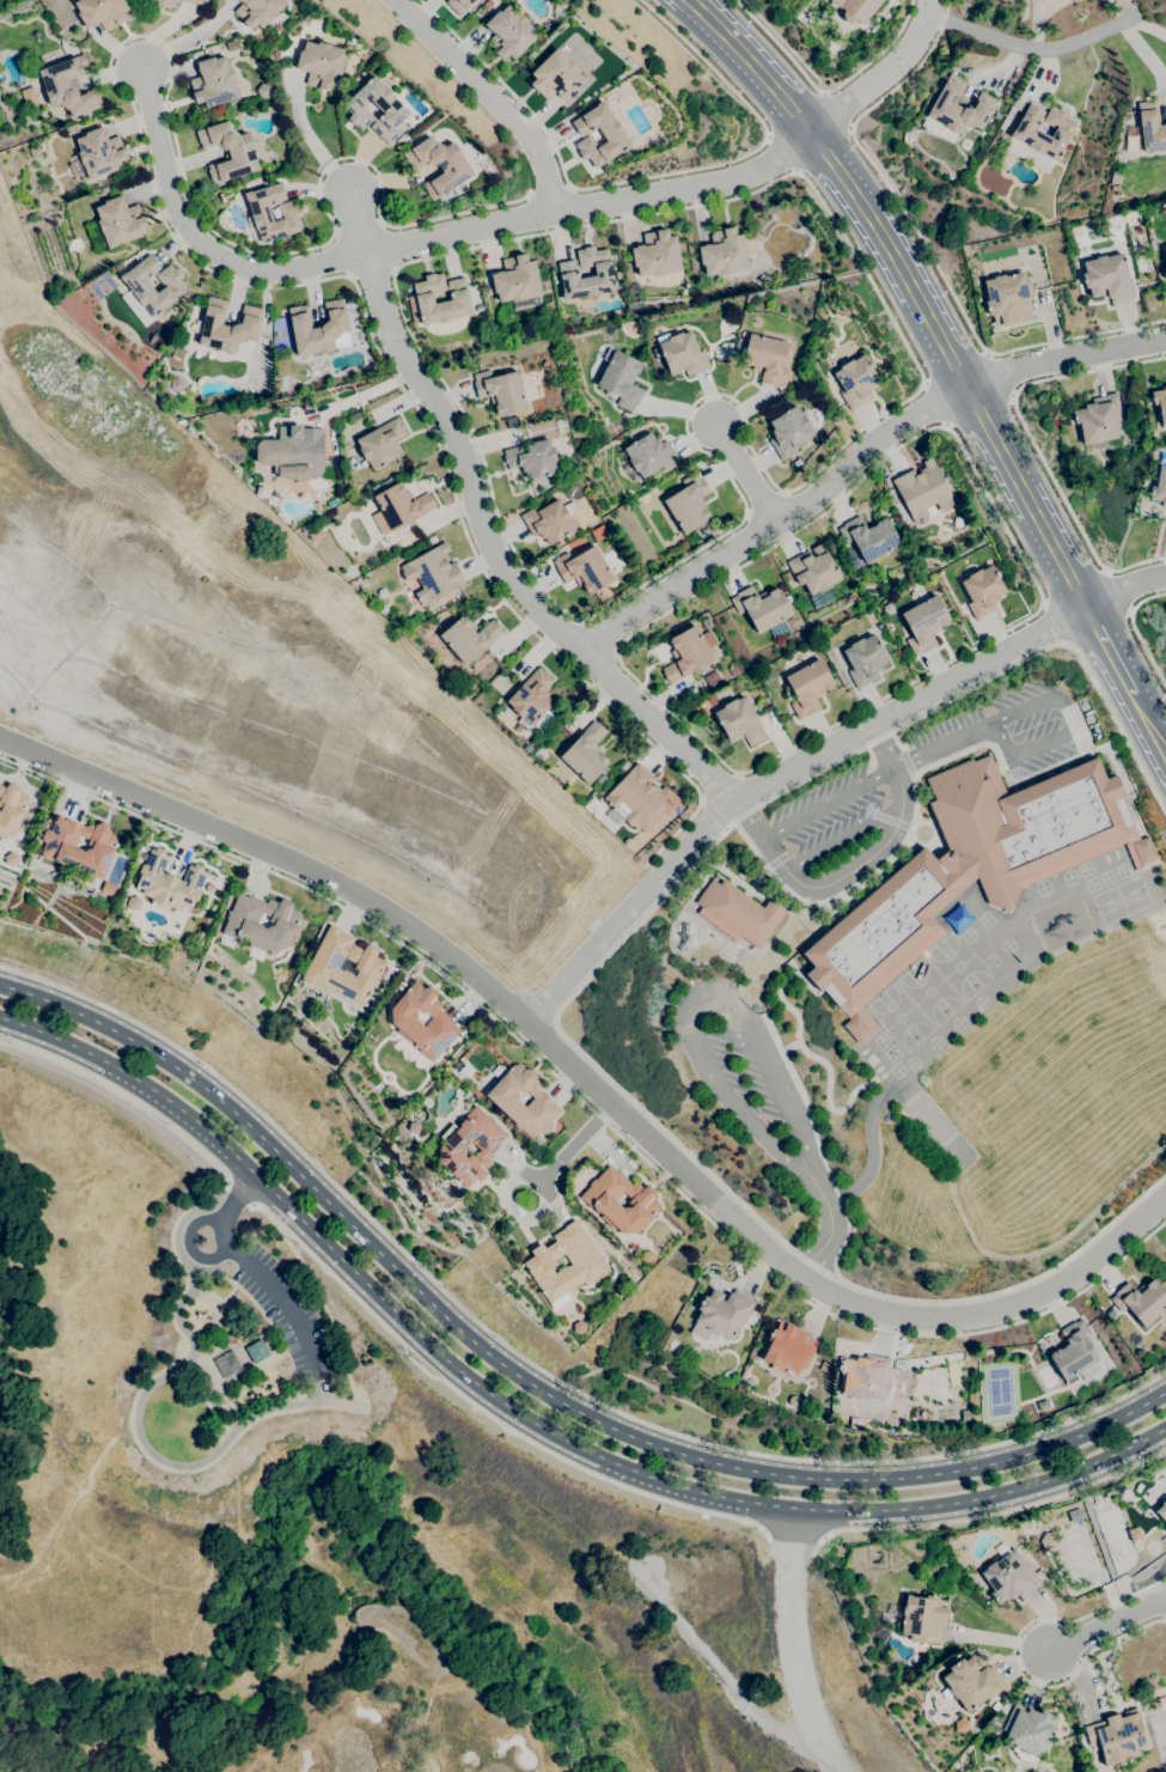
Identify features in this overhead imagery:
building: (1074, 0)
building: (194, 1)
building: (165, 4)
building: (486, 4)
building: (459, 5)
building: (856, 8)
building: (257, 11)
building: (100, 12)
building: (508, 34)
road: (725, 37)
building: (231, 44)
road: (1024, 45)
building: (321, 63)
road: (880, 74)
building: (555, 77)
building: (213, 83)
building: (68, 86)
building: (263, 90)
road: (824, 91)
road: (823, 93)
road: (492, 95)
road: (786, 103)
building: (958, 106)
building: (393, 110)
road: (834, 111)
building: (1150, 127)
road: (849, 128)
building: (611, 134)
building: (1040, 136)
road: (768, 138)
building: (33, 151)
building: (227, 151)
building: (98, 153)
road: (782, 153)
road: (830, 159)
building: (439, 165)
road: (875, 169)
road: (795, 171)
road: (645, 177)
building: (110, 178)
road: (569, 188)
road: (549, 191)
road: (529, 195)
building: (291, 214)
road: (356, 223)
building: (115, 224)
road: (417, 240)
building: (722, 252)
building: (1165, 252)
building: (655, 254)
building: (1165, 270)
building: (568, 272)
building: (1106, 278)
building: (515, 280)
road: (244, 282)
building: (138, 285)
building: (1008, 298)
building: (454, 302)
building: (226, 325)
building: (318, 328)
road: (1074, 339)
building: (682, 353)
building: (765, 359)
road: (1066, 361)
road: (1001, 373)
building: (619, 378)
building: (856, 380)
building: (500, 390)
road: (362, 392)
road: (972, 398)
building: (1160, 404)
road: (934, 406)
building: (1099, 424)
building: (788, 432)
road: (1033, 440)
building: (381, 443)
building: (291, 453)
building: (649, 455)
building: (531, 458)
building: (796, 463)
road: (746, 471)
building: (385, 483)
building: (1159, 487)
building: (922, 491)
building: (688, 503)
building: (401, 505)
building: (1165, 512)
building: (549, 520)
road: (775, 520)
building: (869, 537)
road: (497, 560)
road: (1025, 566)
building: (584, 568)
building: (813, 570)
building: (432, 573)
building: (978, 587)
road: (1119, 591)
road: (622, 595)
road: (1127, 599)
building: (763, 609)
building: (706, 623)
building: (923, 623)
road: (1052, 623)
road: (1136, 632)
building: (469, 638)
road: (1110, 652)
building: (686, 654)
building: (863, 660)
building: (733, 671)
building: (712, 680)
building: (807, 687)
building: (530, 698)
road: (1043, 699)
building: (762, 702)
building: (739, 721)
road: (1149, 724)
parking lot: (1012, 727)
road: (1001, 735)
road: (944, 744)
road: (1038, 744)
building: (585, 753)
road: (776, 777)
road: (719, 784)
building: (635, 796)
road: (829, 802)
parking lot: (825, 808)
building: (11, 809)
road: (714, 811)
road: (750, 817)
road: (842, 835)
building: (59, 848)
road: (873, 853)
building: (10, 859)
building: (969, 866)
building: (167, 883)
building: (108, 889)
park: (1121, 899)
building: (739, 912)
building: (243, 928)
park: (958, 964)
building: (323, 966)
road: (580, 984)
park: (928, 991)
road: (541, 1004)
park: (899, 1017)
building: (404, 1022)
parking lot: (739, 1066)
road: (775, 1070)
road: (592, 1084)
road: (126, 1095)
road: (733, 1098)
building: (505, 1101)
road: (588, 1108)
road: (591, 1125)
building: (452, 1146)
road: (549, 1170)
road: (237, 1196)
building: (598, 1200)
road: (829, 1235)
building: (647, 1256)
building: (585, 1261)
road: (251, 1268)
building: (1141, 1301)
road: (318, 1303)
road: (184, 1307)
building: (722, 1313)
building: (1110, 1314)
building: (787, 1348)
building: (256, 1351)
building: (1075, 1354)
road: (532, 1363)
building: (224, 1364)
building: (824, 1366)
building: (722, 1372)
building: (863, 1377)
road: (532, 1381)
park: (257, 1393)
road: (530, 1415)
building: (964, 1415)
road: (490, 1417)
building: (1164, 1479)
building: (1125, 1496)
building: (1097, 1499)
road: (65, 1502)
building: (1161, 1511)
road: (989, 1514)
building: (1165, 1529)
road: (794, 1534)
building: (1009, 1577)
building: (923, 1618)
road: (1112, 1626)
road: (793, 1643)
road: (1014, 1657)
road: (721, 1673)
park: (397, 1682)
building: (971, 1682)
building: (1005, 1705)
building: (995, 1706)
building: (990, 1722)
building: (960, 1725)
building: (1027, 1731)
building: (1116, 1736)

